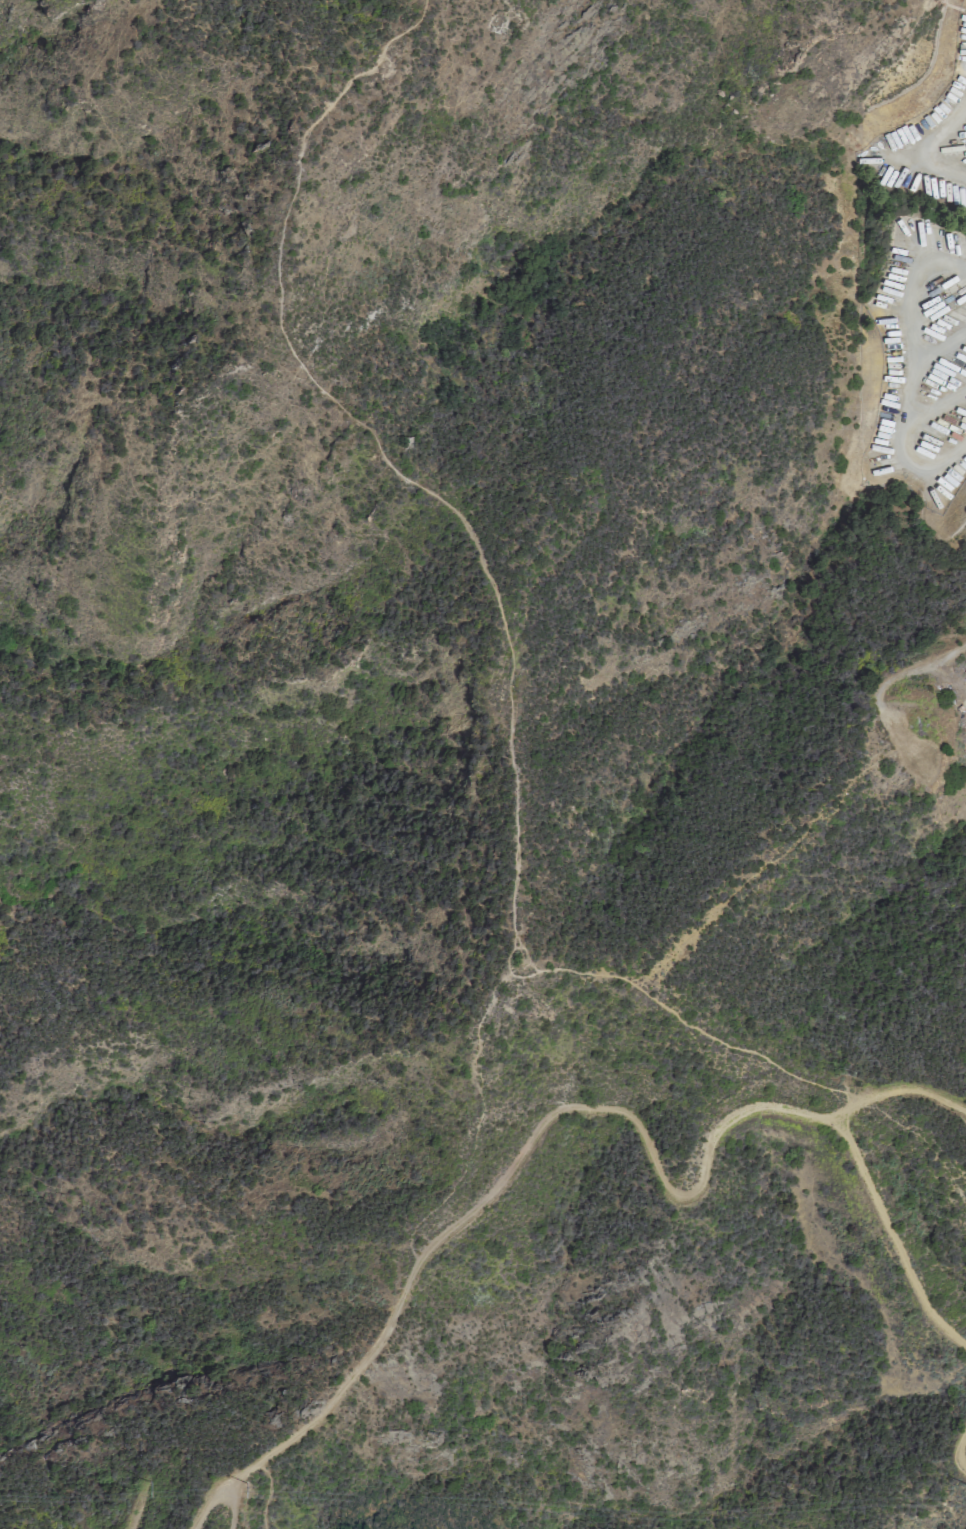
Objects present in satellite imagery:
road: (913, 153)
parking lot: (917, 292)
road: (936, 355)
road: (906, 371)
road: (935, 410)
road: (500, 612)
road: (897, 679)
road: (899, 1090)
road: (499, 1184)
road: (890, 1240)
road: (956, 1449)
road: (268, 1493)
road: (138, 1509)
road: (234, 1509)

